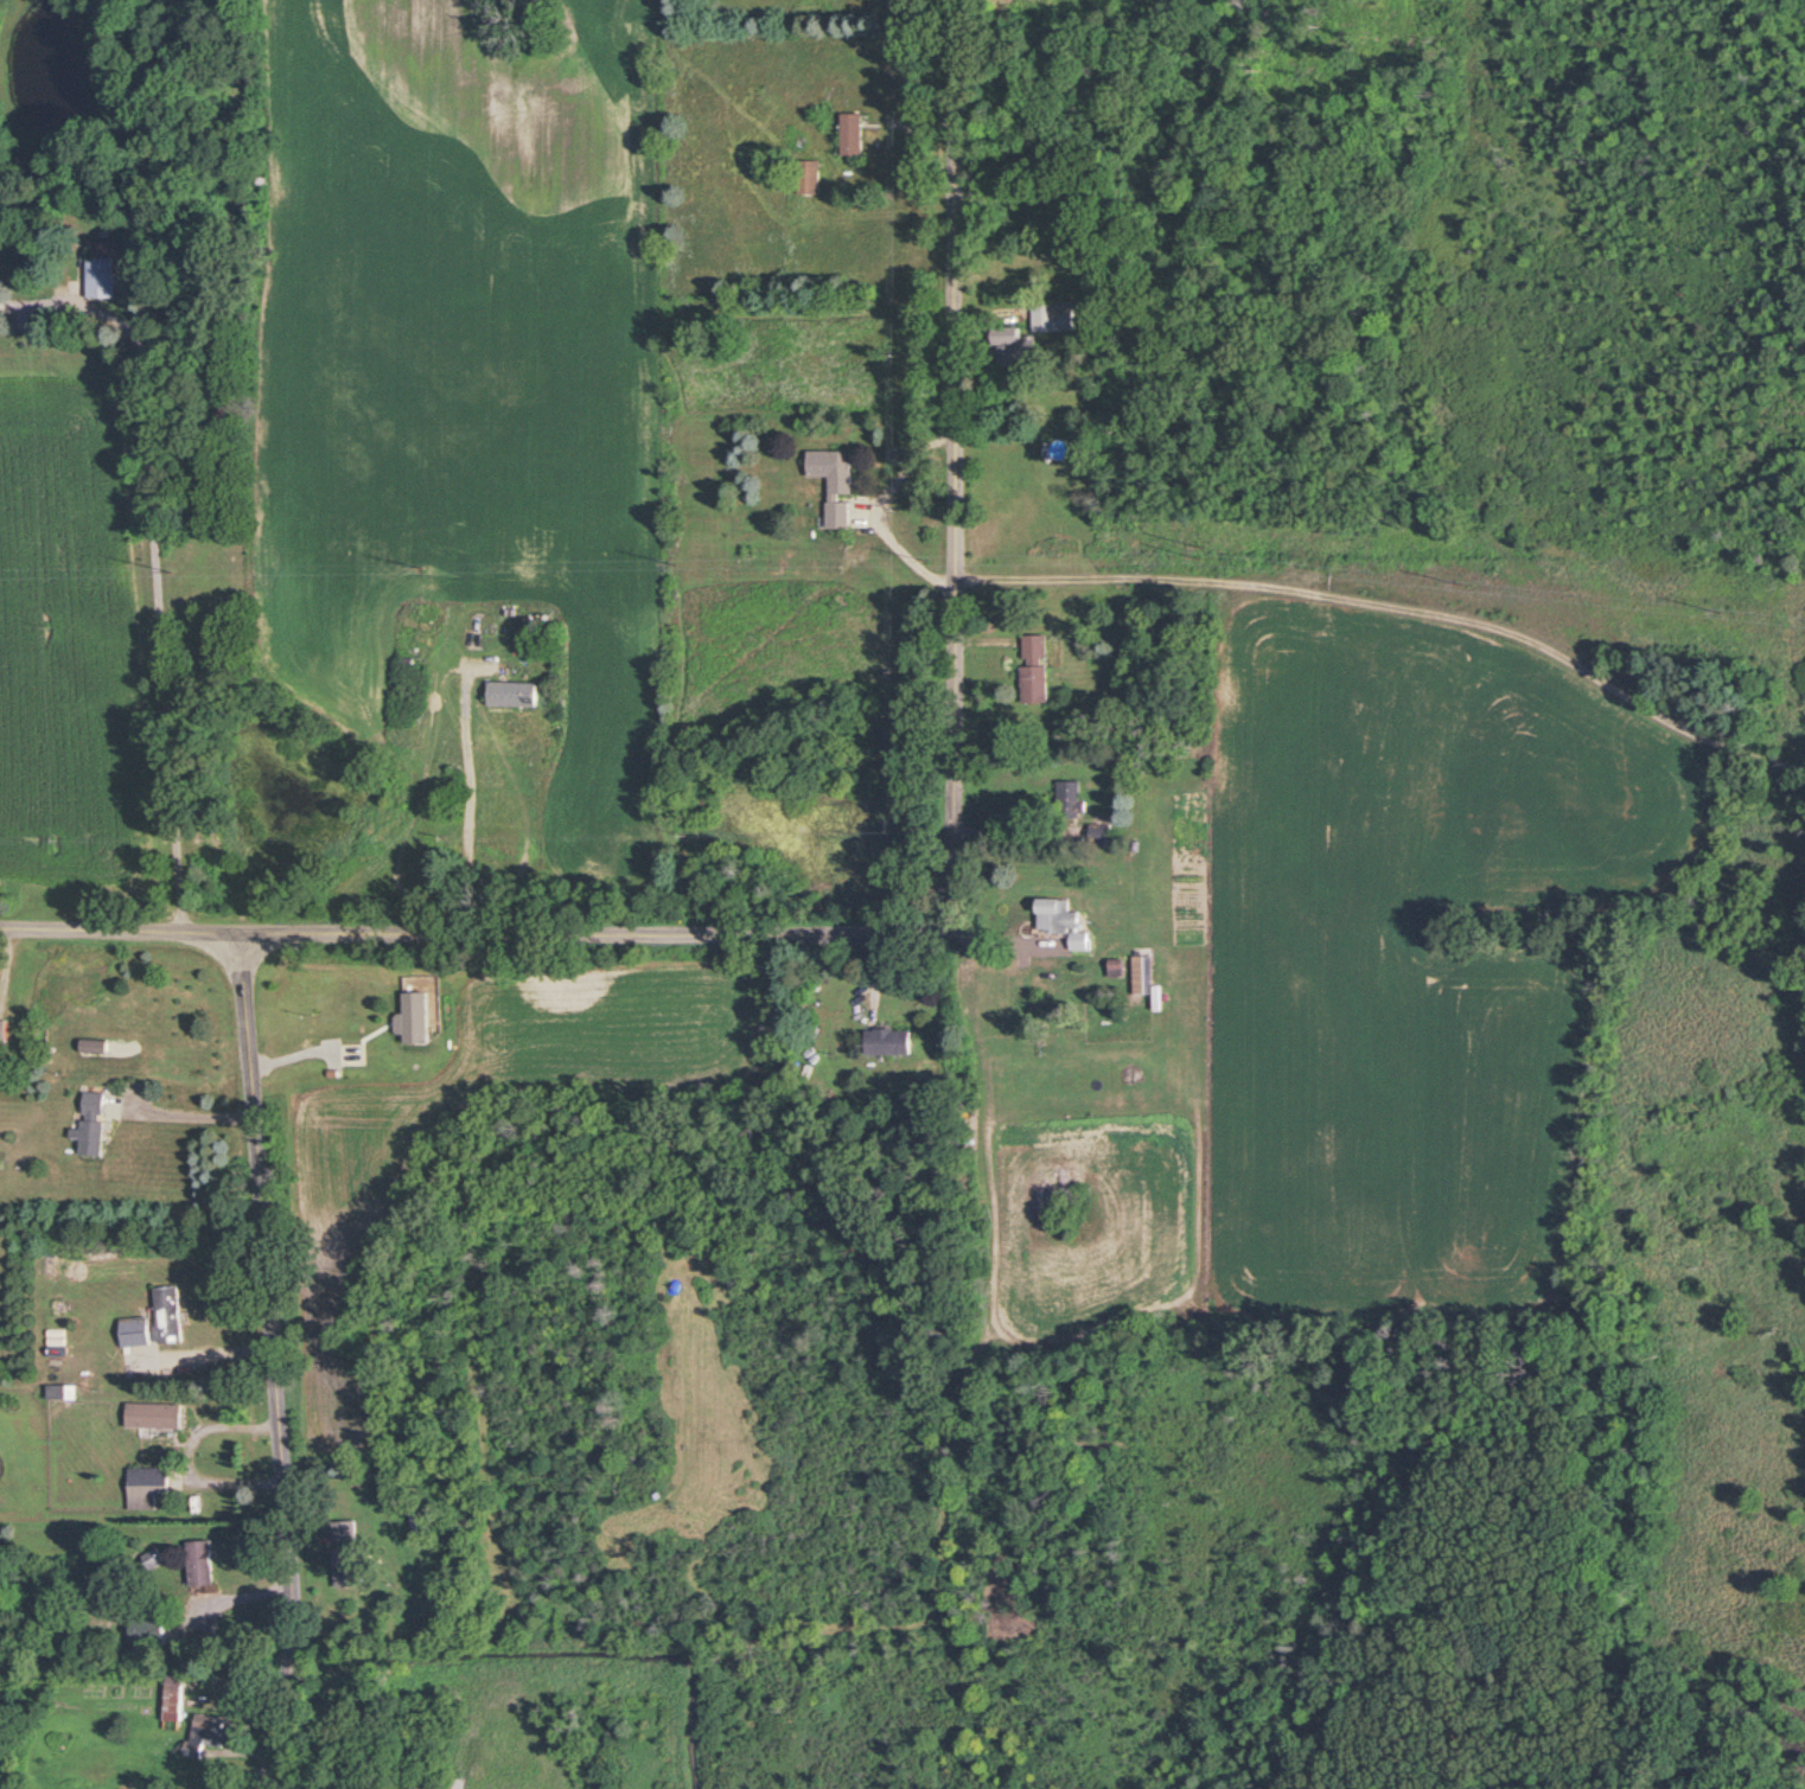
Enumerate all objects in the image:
building: (849, 136)
building: (805, 179)
building: (98, 270)
building: (1050, 318)
building: (1009, 346)
building: (1057, 452)
building: (833, 484)
road: (876, 496)
road: (155, 568)
road: (1401, 587)
building: (1032, 671)
building: (510, 695)
building: (1069, 800)
road: (470, 804)
road: (958, 813)
building: (1098, 835)
building: (1059, 924)
road: (121, 938)
building: (1112, 970)
building: (1141, 976)
building: (59, 989)
building: (886, 1043)
building: (369, 1050)
road: (192, 1118)
building: (89, 1125)
building: (166, 1316)
building: (132, 1334)
road: (276, 1366)
building: (151, 1417)
road: (189, 1459)
building: (145, 1488)
building: (342, 1532)
building: (151, 1560)
building: (197, 1564)
building: (344, 1568)
building: (143, 1633)
building: (171, 1700)
building: (205, 1736)

